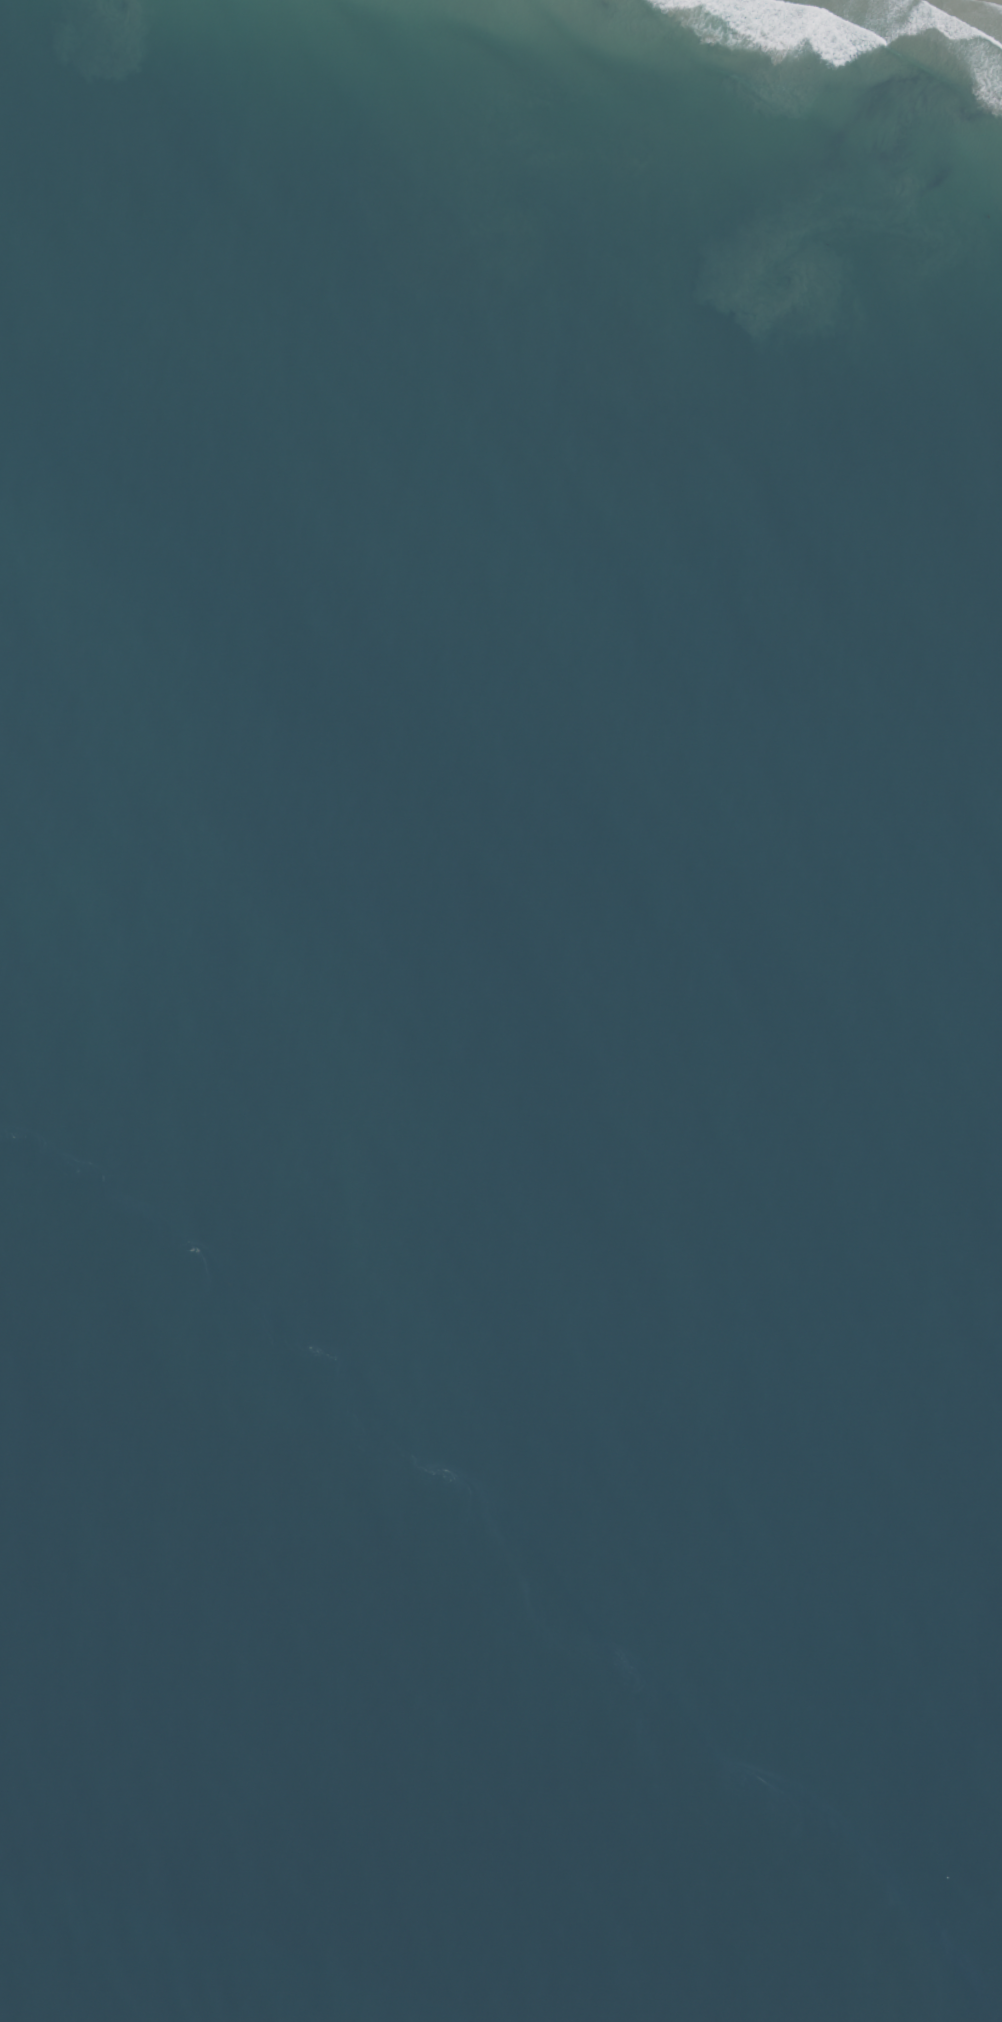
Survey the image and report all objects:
airport: (888, 42)

